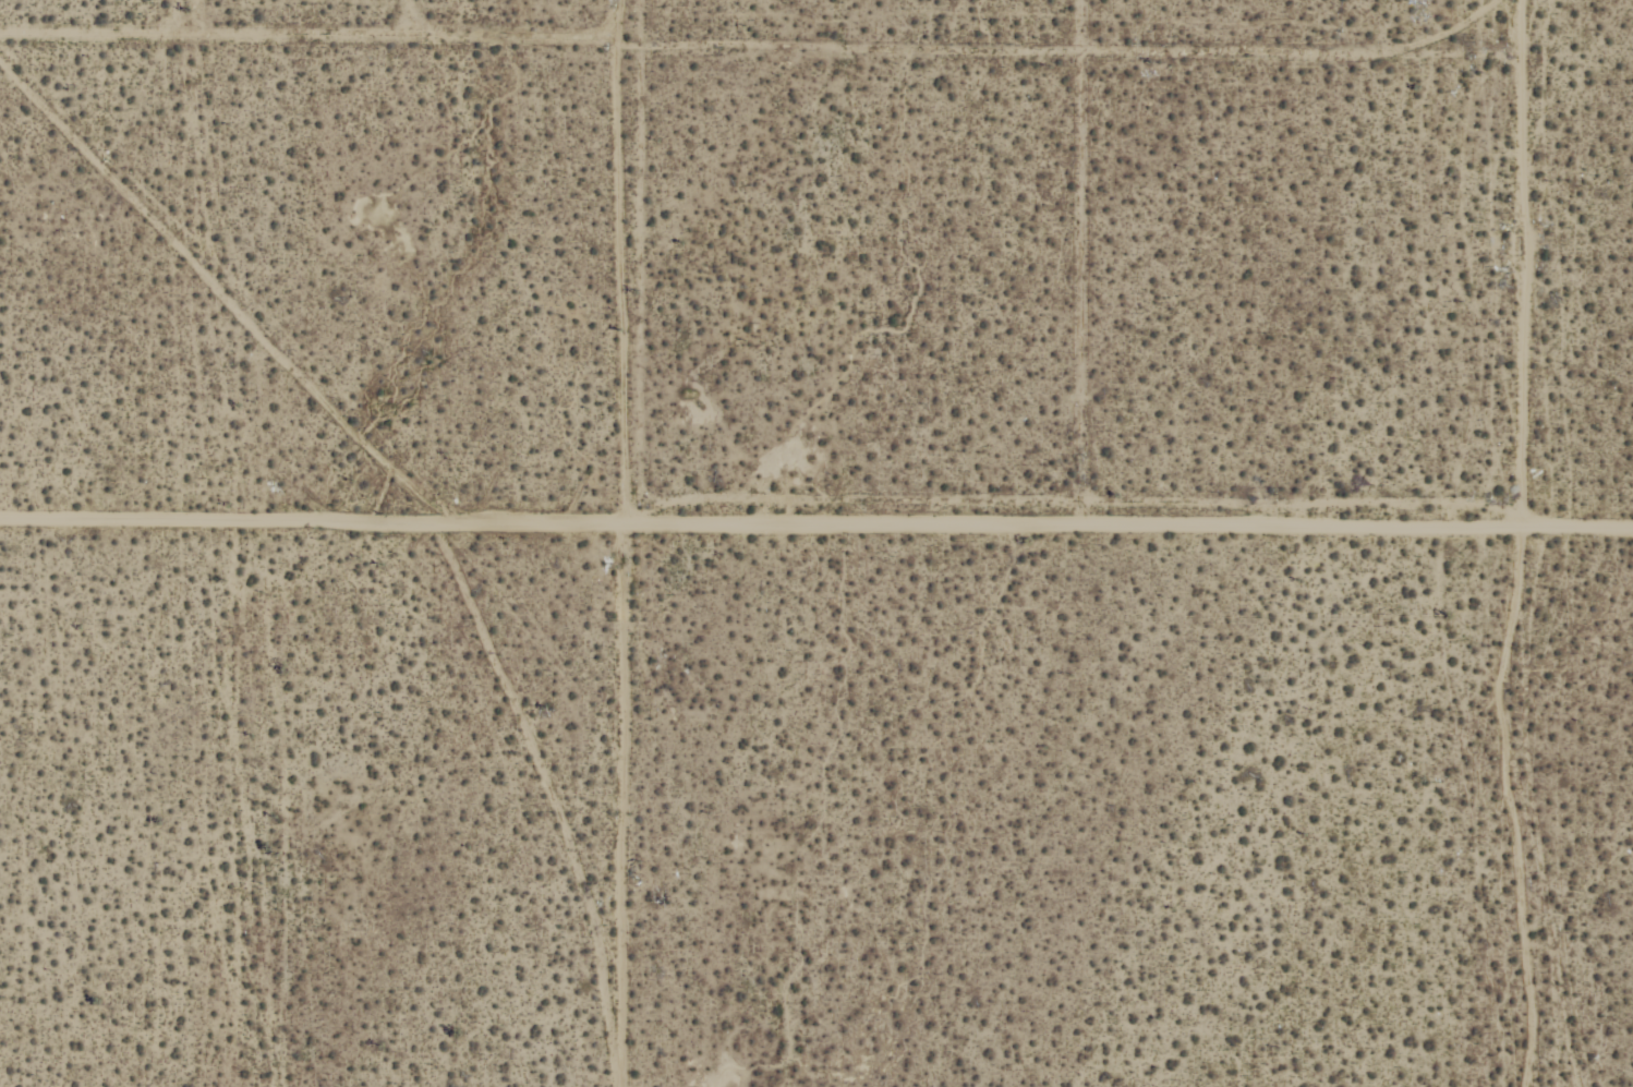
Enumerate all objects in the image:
road: (218, 36)
road: (437, 36)
road: (785, 72)
road: (227, 262)
road: (1549, 262)
road: (815, 524)
road: (626, 806)

